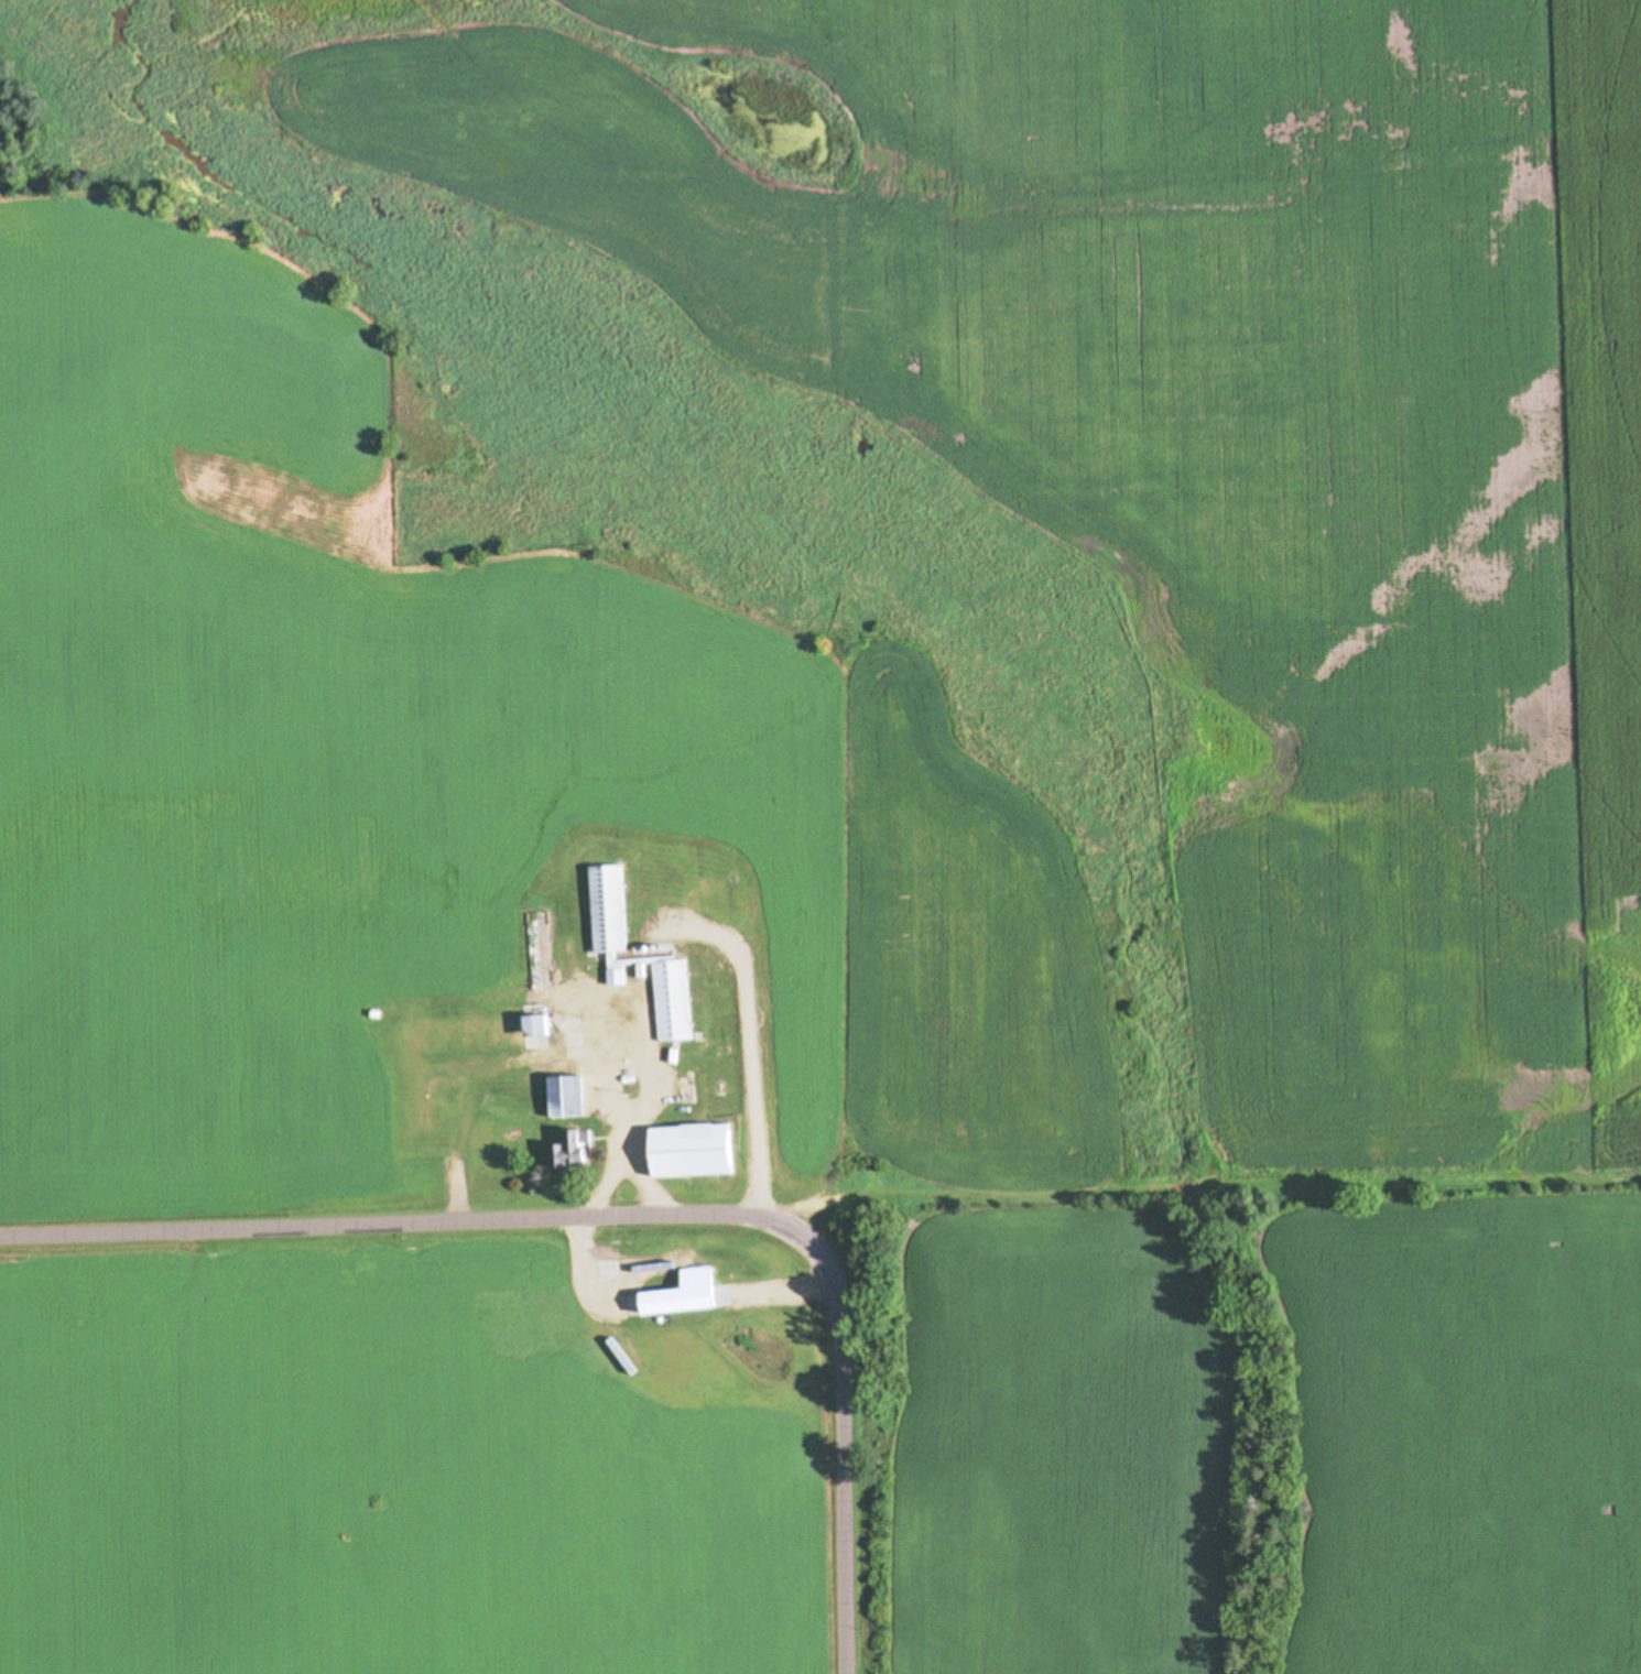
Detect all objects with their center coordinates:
crop: (960, 808)
building: (725, 894)
building: (611, 909)
building: (676, 1000)
building: (529, 1029)
building: (613, 1032)
building: (489, 1036)
road: (752, 1062)
building: (729, 1075)
building: (531, 1089)
building: (438, 1090)
building: (572, 1097)
building: (575, 1150)
building: (697, 1151)
road: (385, 1225)
building: (611, 1270)
road: (841, 1433)
crop: (416, 1455)

